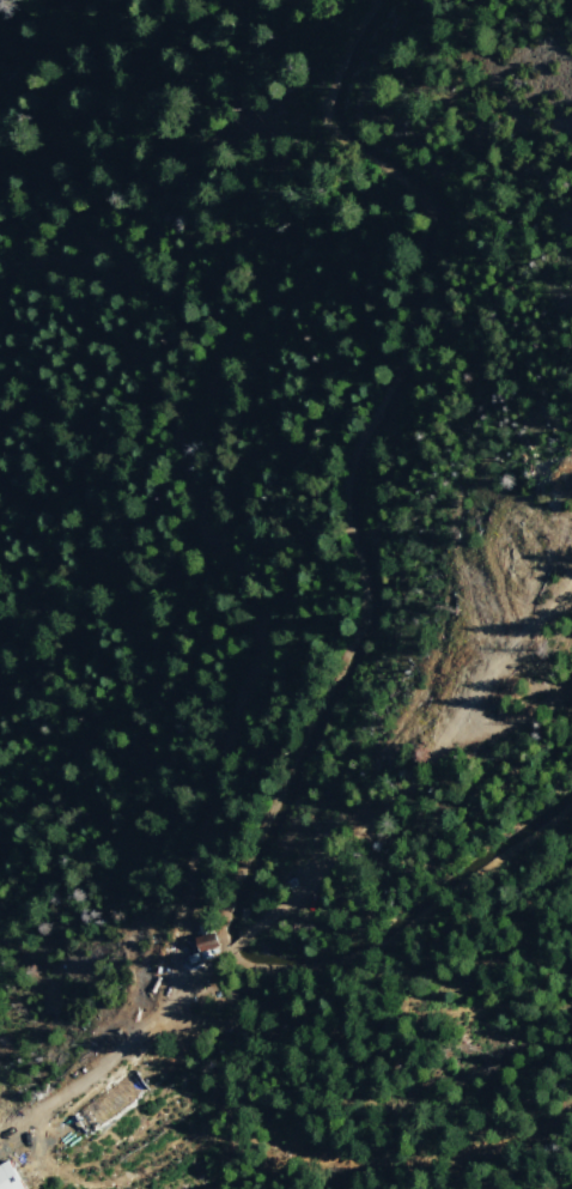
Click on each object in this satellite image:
road: (420, 763)
road: (233, 945)
road: (114, 1048)
building: (10, 1176)

